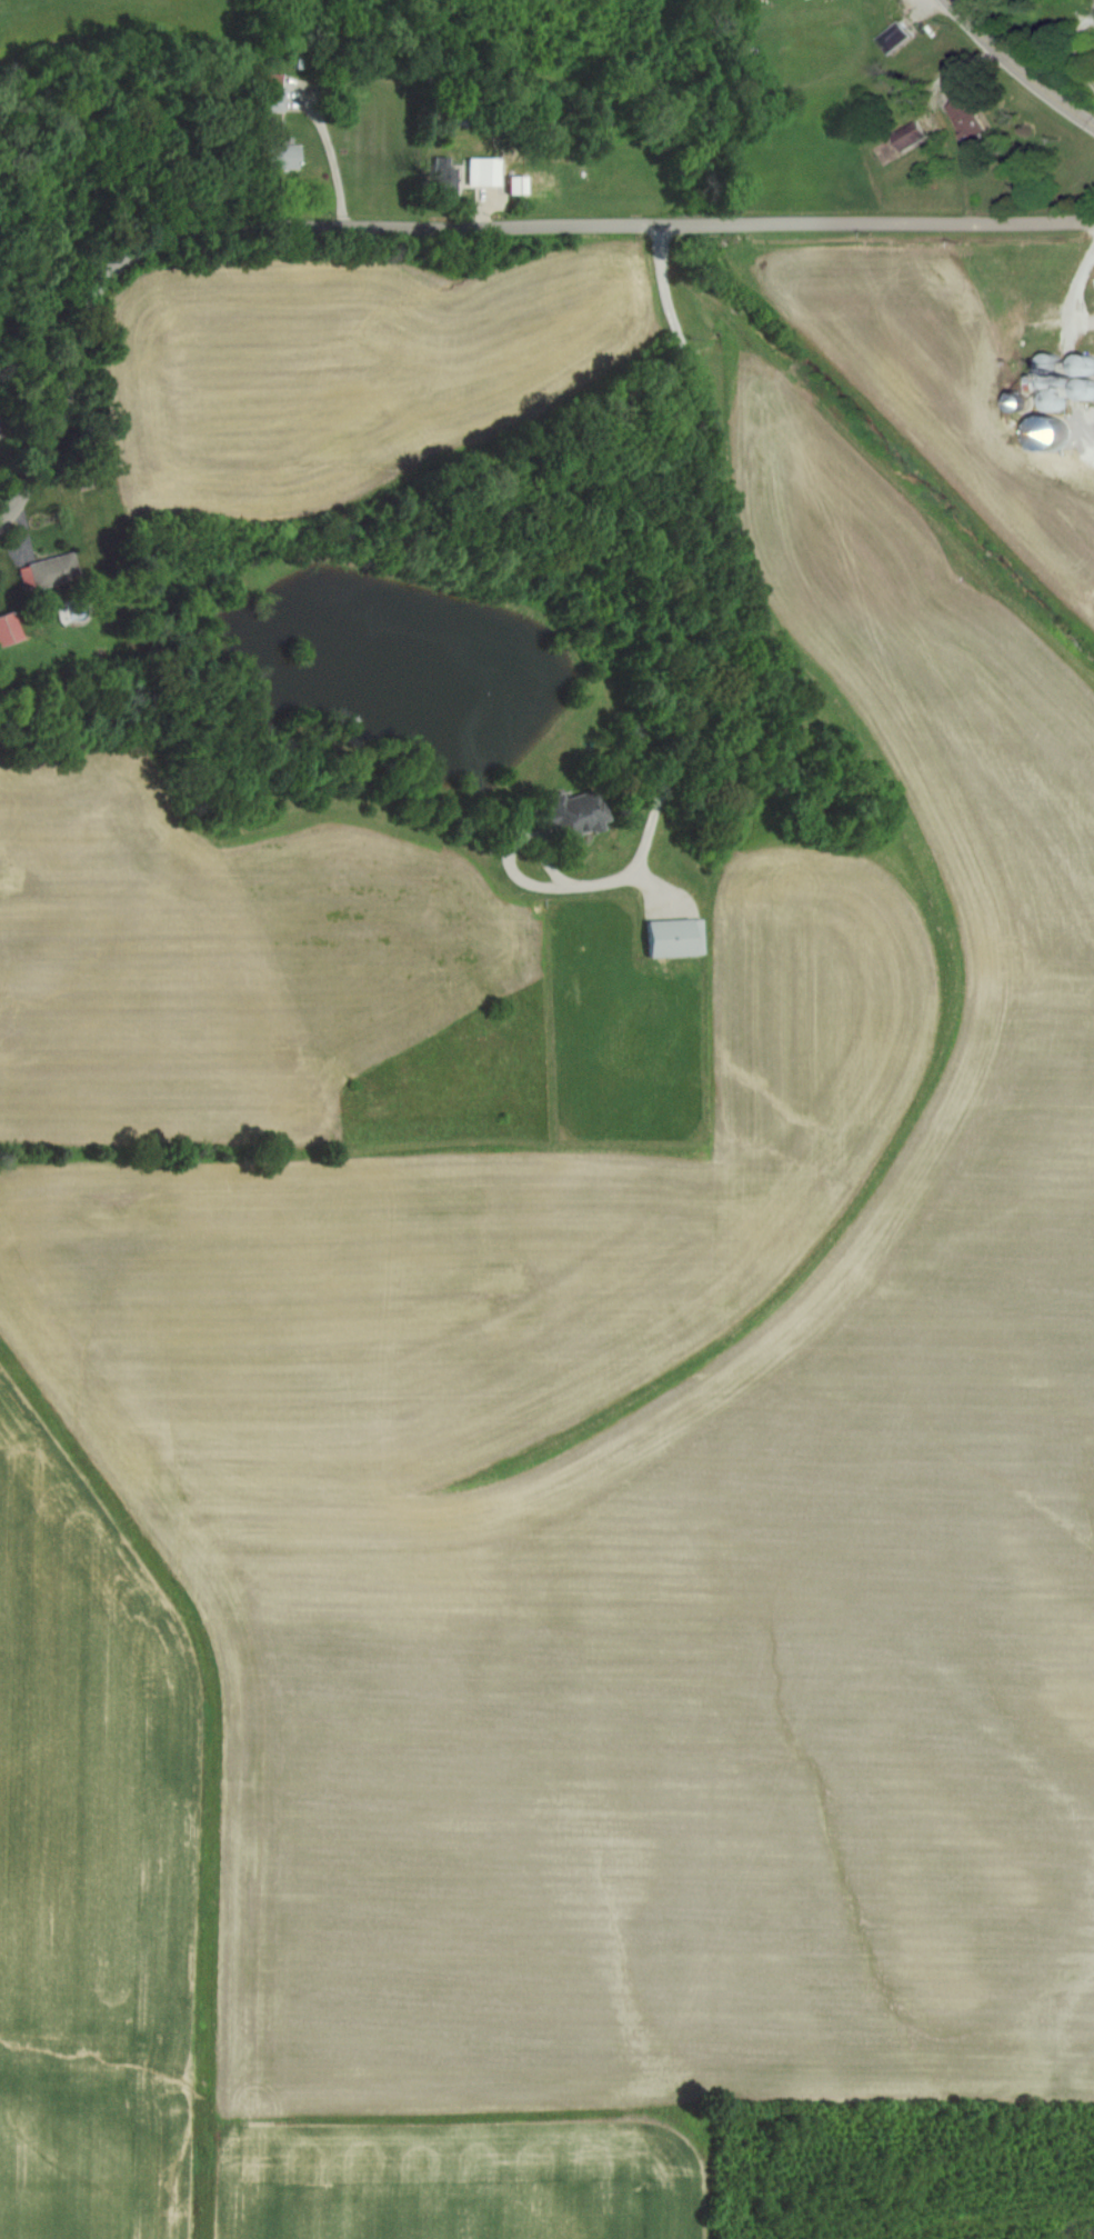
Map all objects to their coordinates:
building: (901, 39)
road: (1016, 68)
building: (277, 92)
building: (974, 124)
building: (914, 136)
road: (332, 152)
building: (285, 156)
building: (486, 172)
building: (520, 186)
road: (454, 228)
road: (690, 496)
building: (51, 572)
building: (10, 630)
building: (579, 813)
road: (571, 886)
building: (678, 938)

